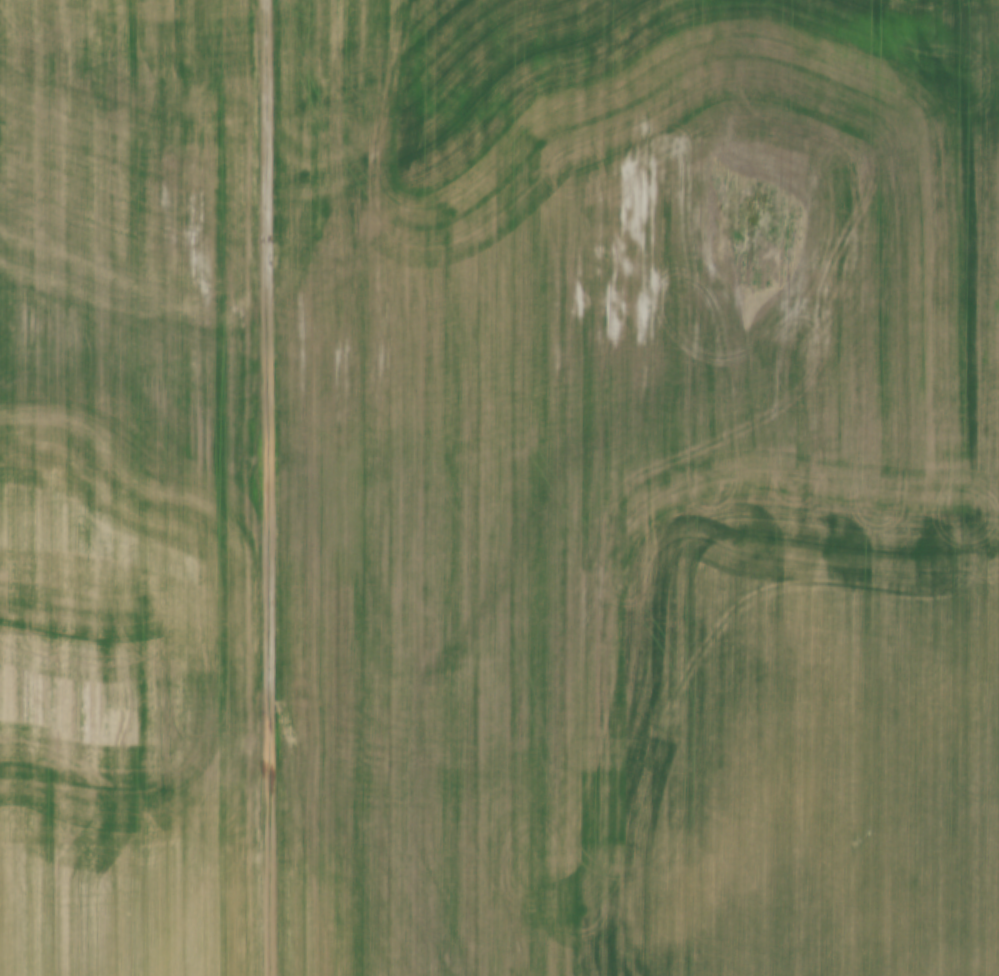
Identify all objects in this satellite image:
road: (268, 488)

